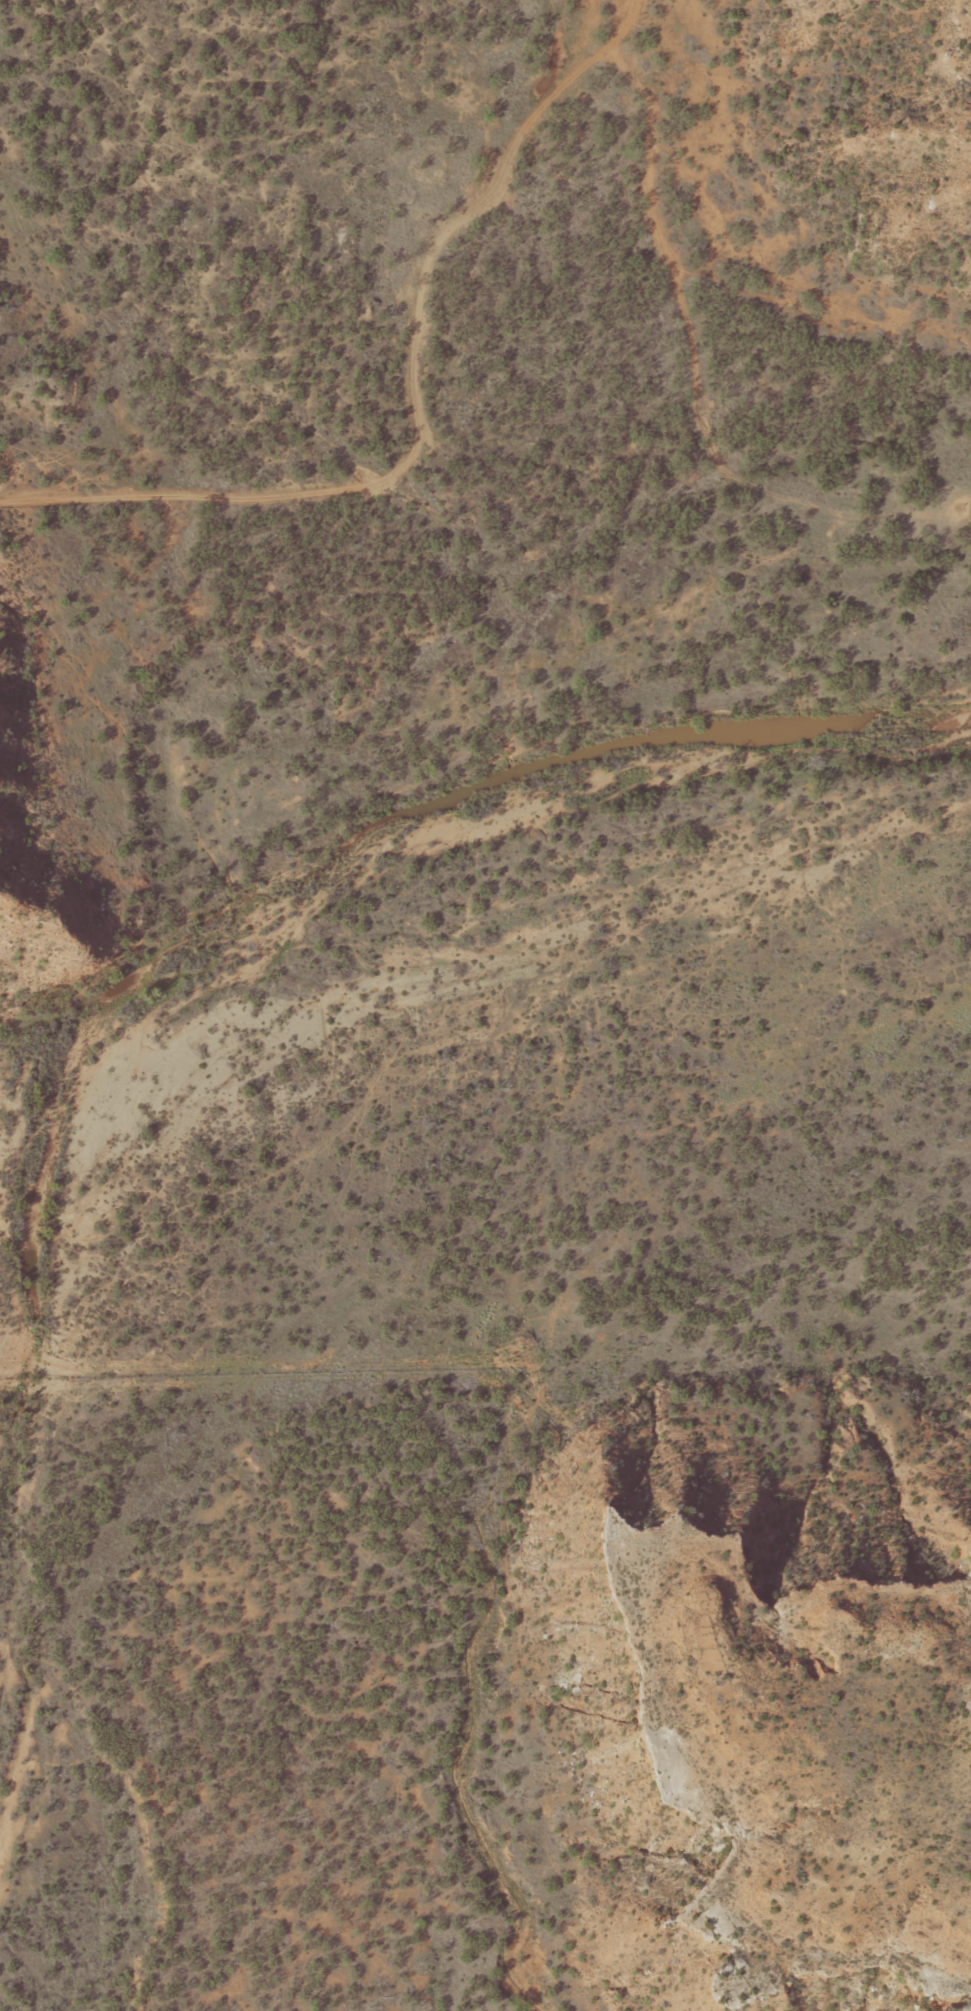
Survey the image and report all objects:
road: (216, 360)

